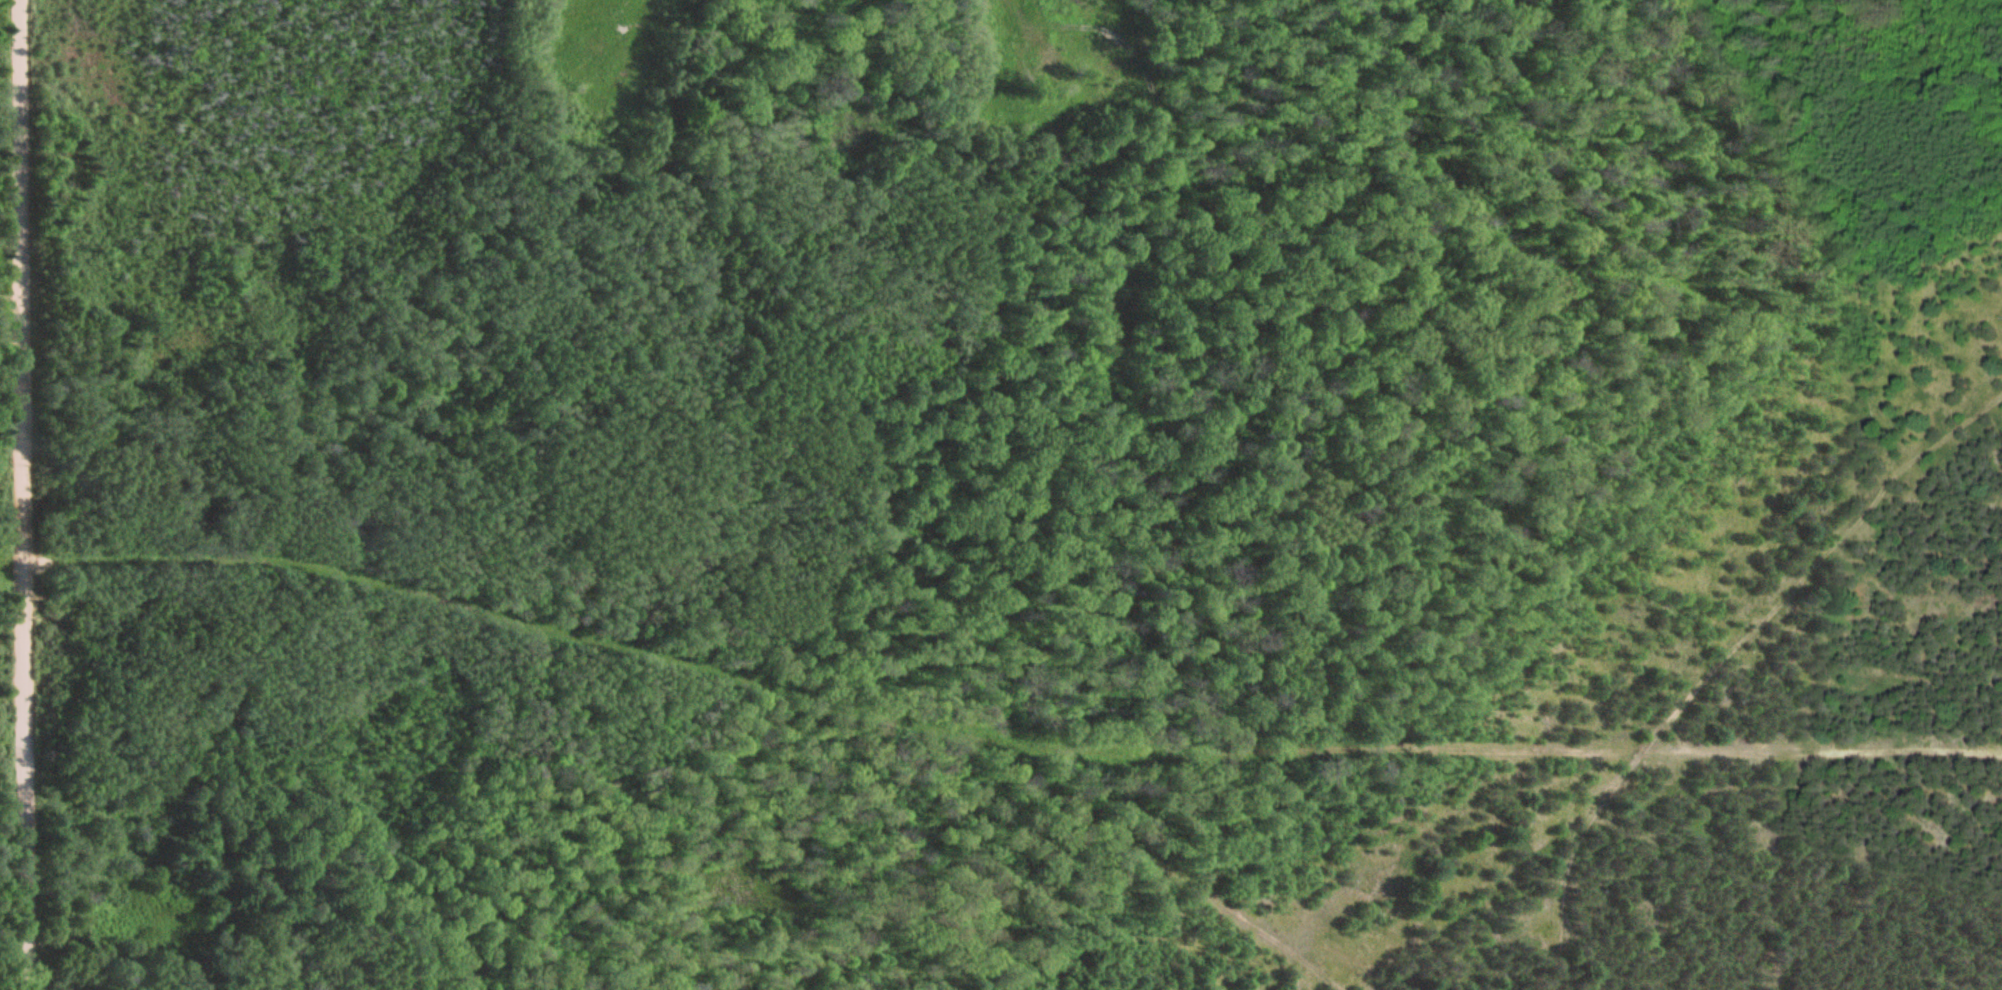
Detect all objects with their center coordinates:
road: (23, 495)
road: (1727, 656)
road: (1830, 744)

